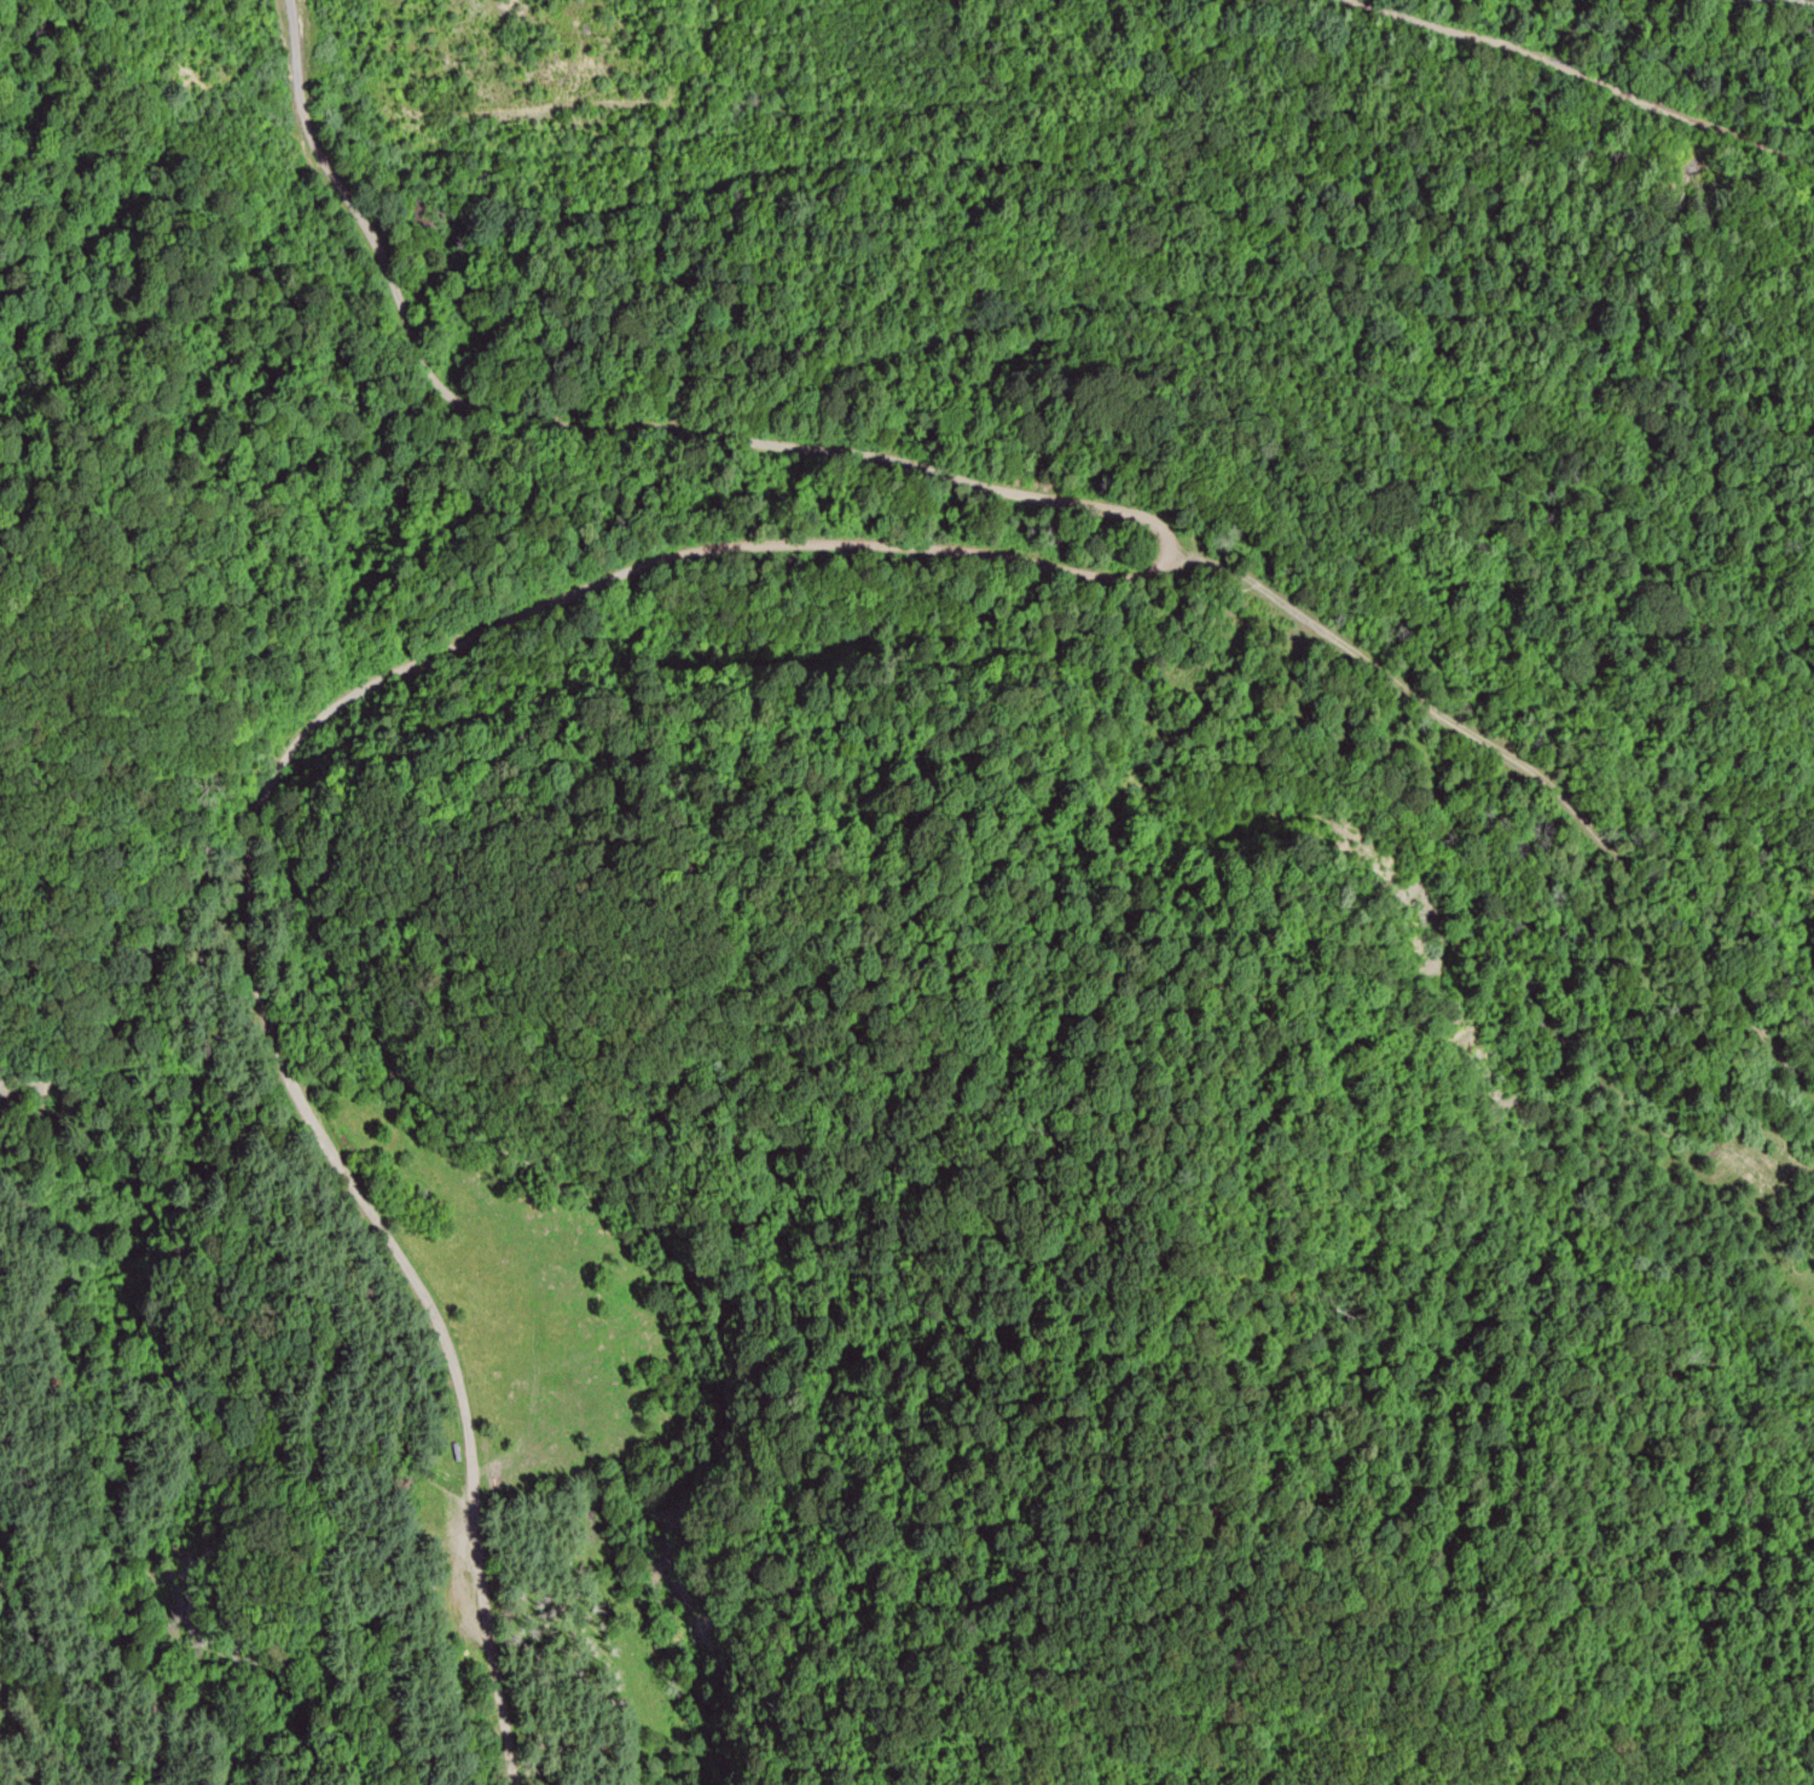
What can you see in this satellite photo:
road: (1589, 79)

